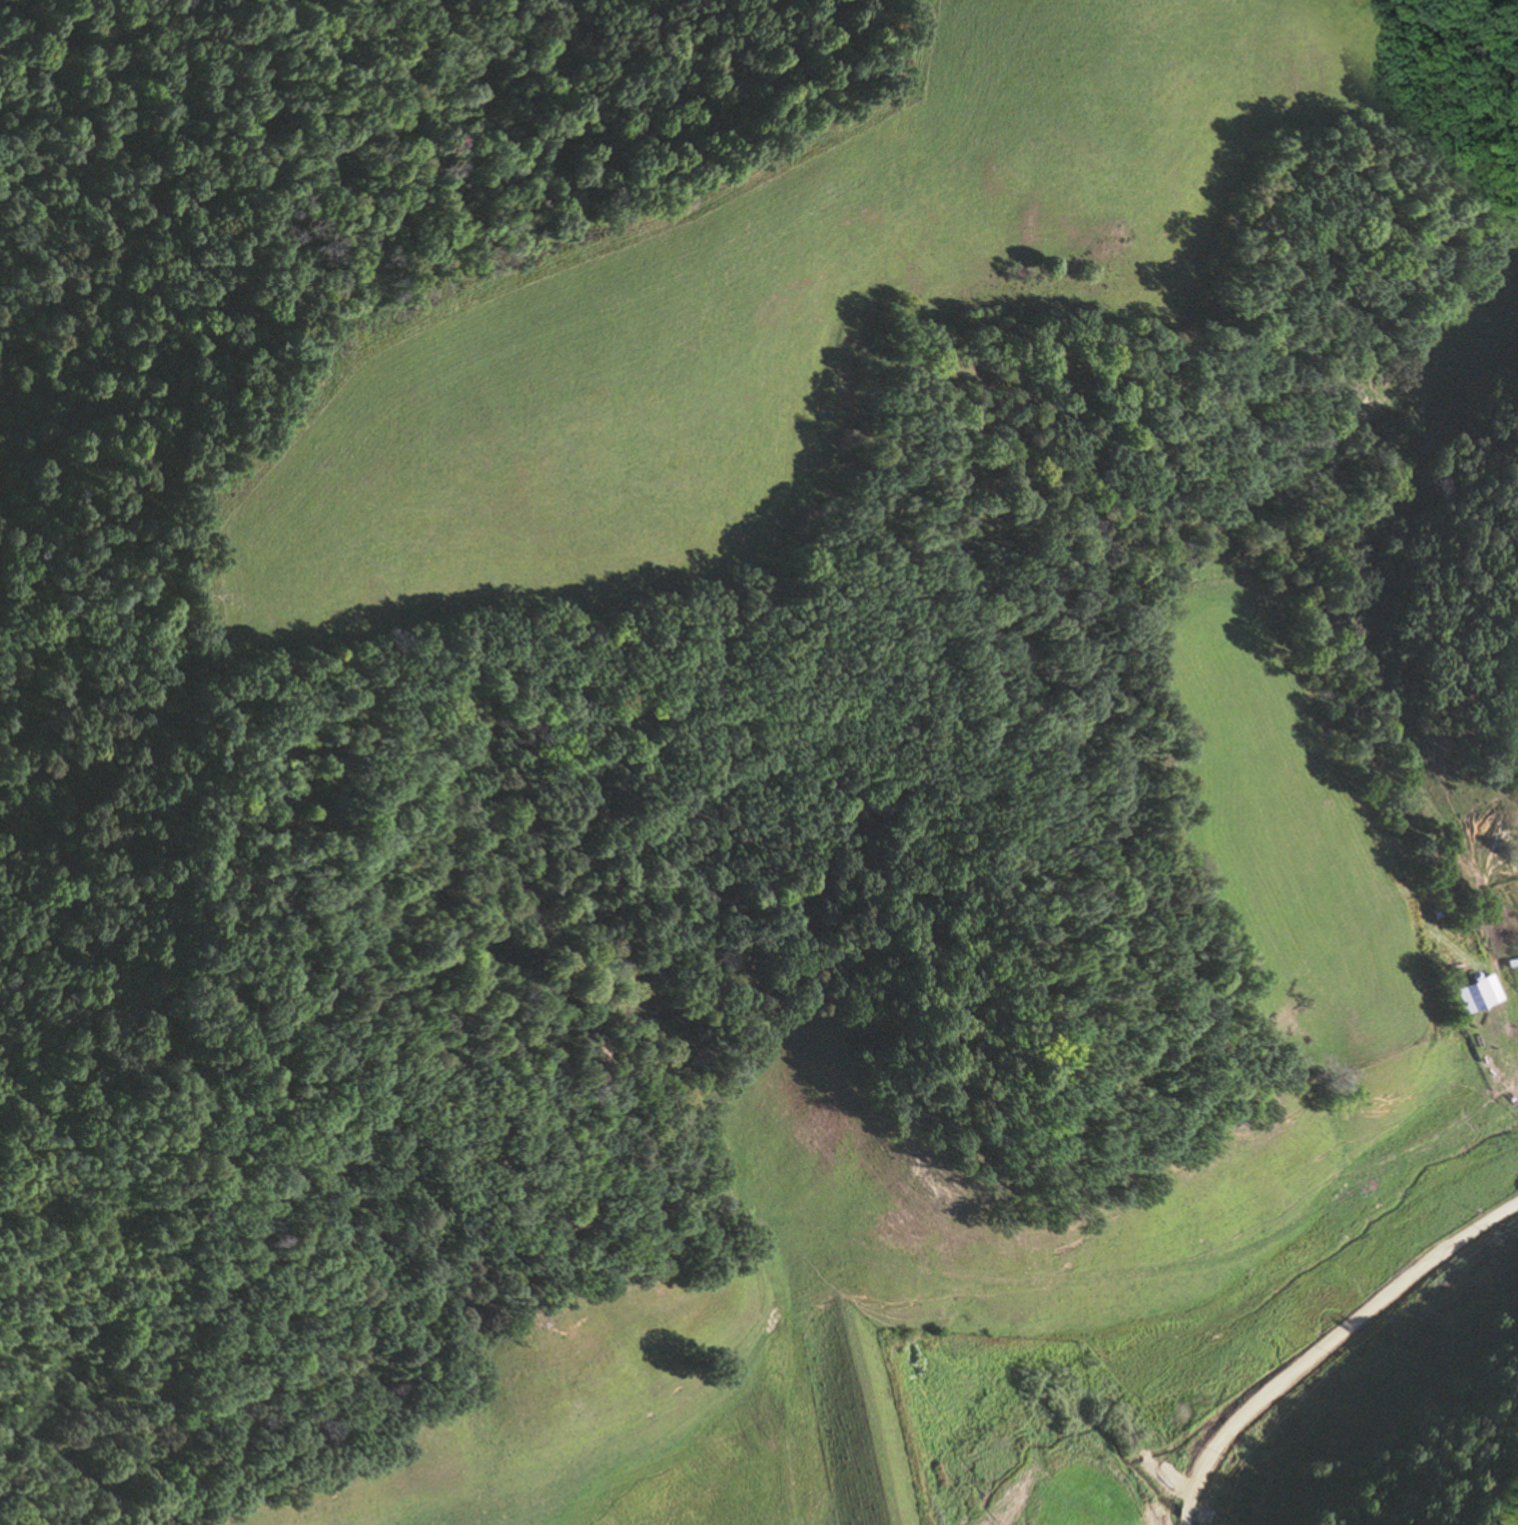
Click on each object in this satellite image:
building: (1476, 997)
road: (1325, 1339)

